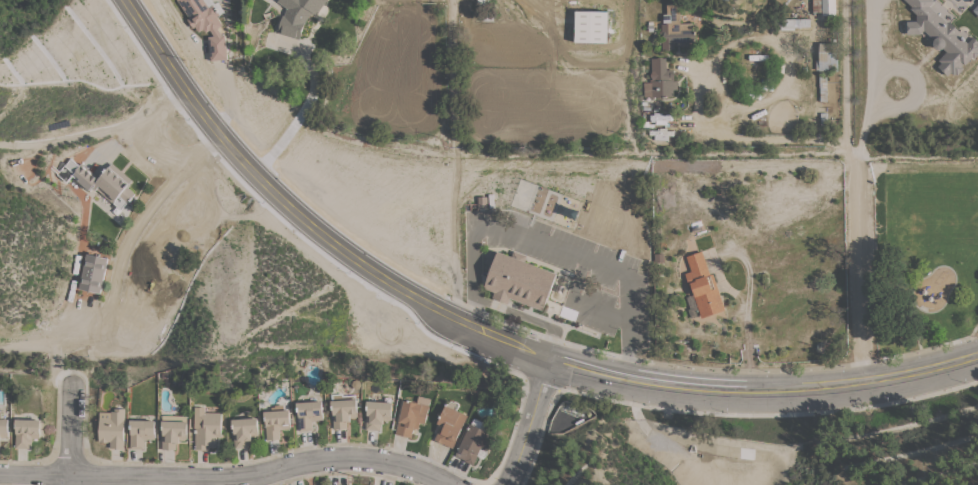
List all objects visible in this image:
building: (823, 7)
building: (297, 15)
building: (795, 24)
building: (206, 25)
building: (590, 26)
building: (674, 29)
building: (941, 36)
building: (827, 57)
road: (871, 79)
building: (659, 80)
building: (822, 88)
building: (57, 125)
road: (144, 129)
building: (660, 133)
road: (747, 153)
building: (100, 181)
road: (265, 185)
road: (855, 191)
road: (452, 244)
road: (551, 248)
park: (922, 249)
road: (736, 250)
building: (92, 273)
building: (519, 280)
building: (702, 286)
road: (47, 344)
road: (712, 392)
building: (342, 412)
building: (308, 414)
building: (376, 414)
building: (412, 415)
building: (275, 423)
building: (449, 424)
road: (530, 424)
building: (112, 427)
building: (3, 428)
building: (206, 428)
building: (244, 431)
building: (26, 432)
building: (173, 432)
building: (140, 433)
road: (68, 434)
building: (473, 441)
road: (225, 478)

